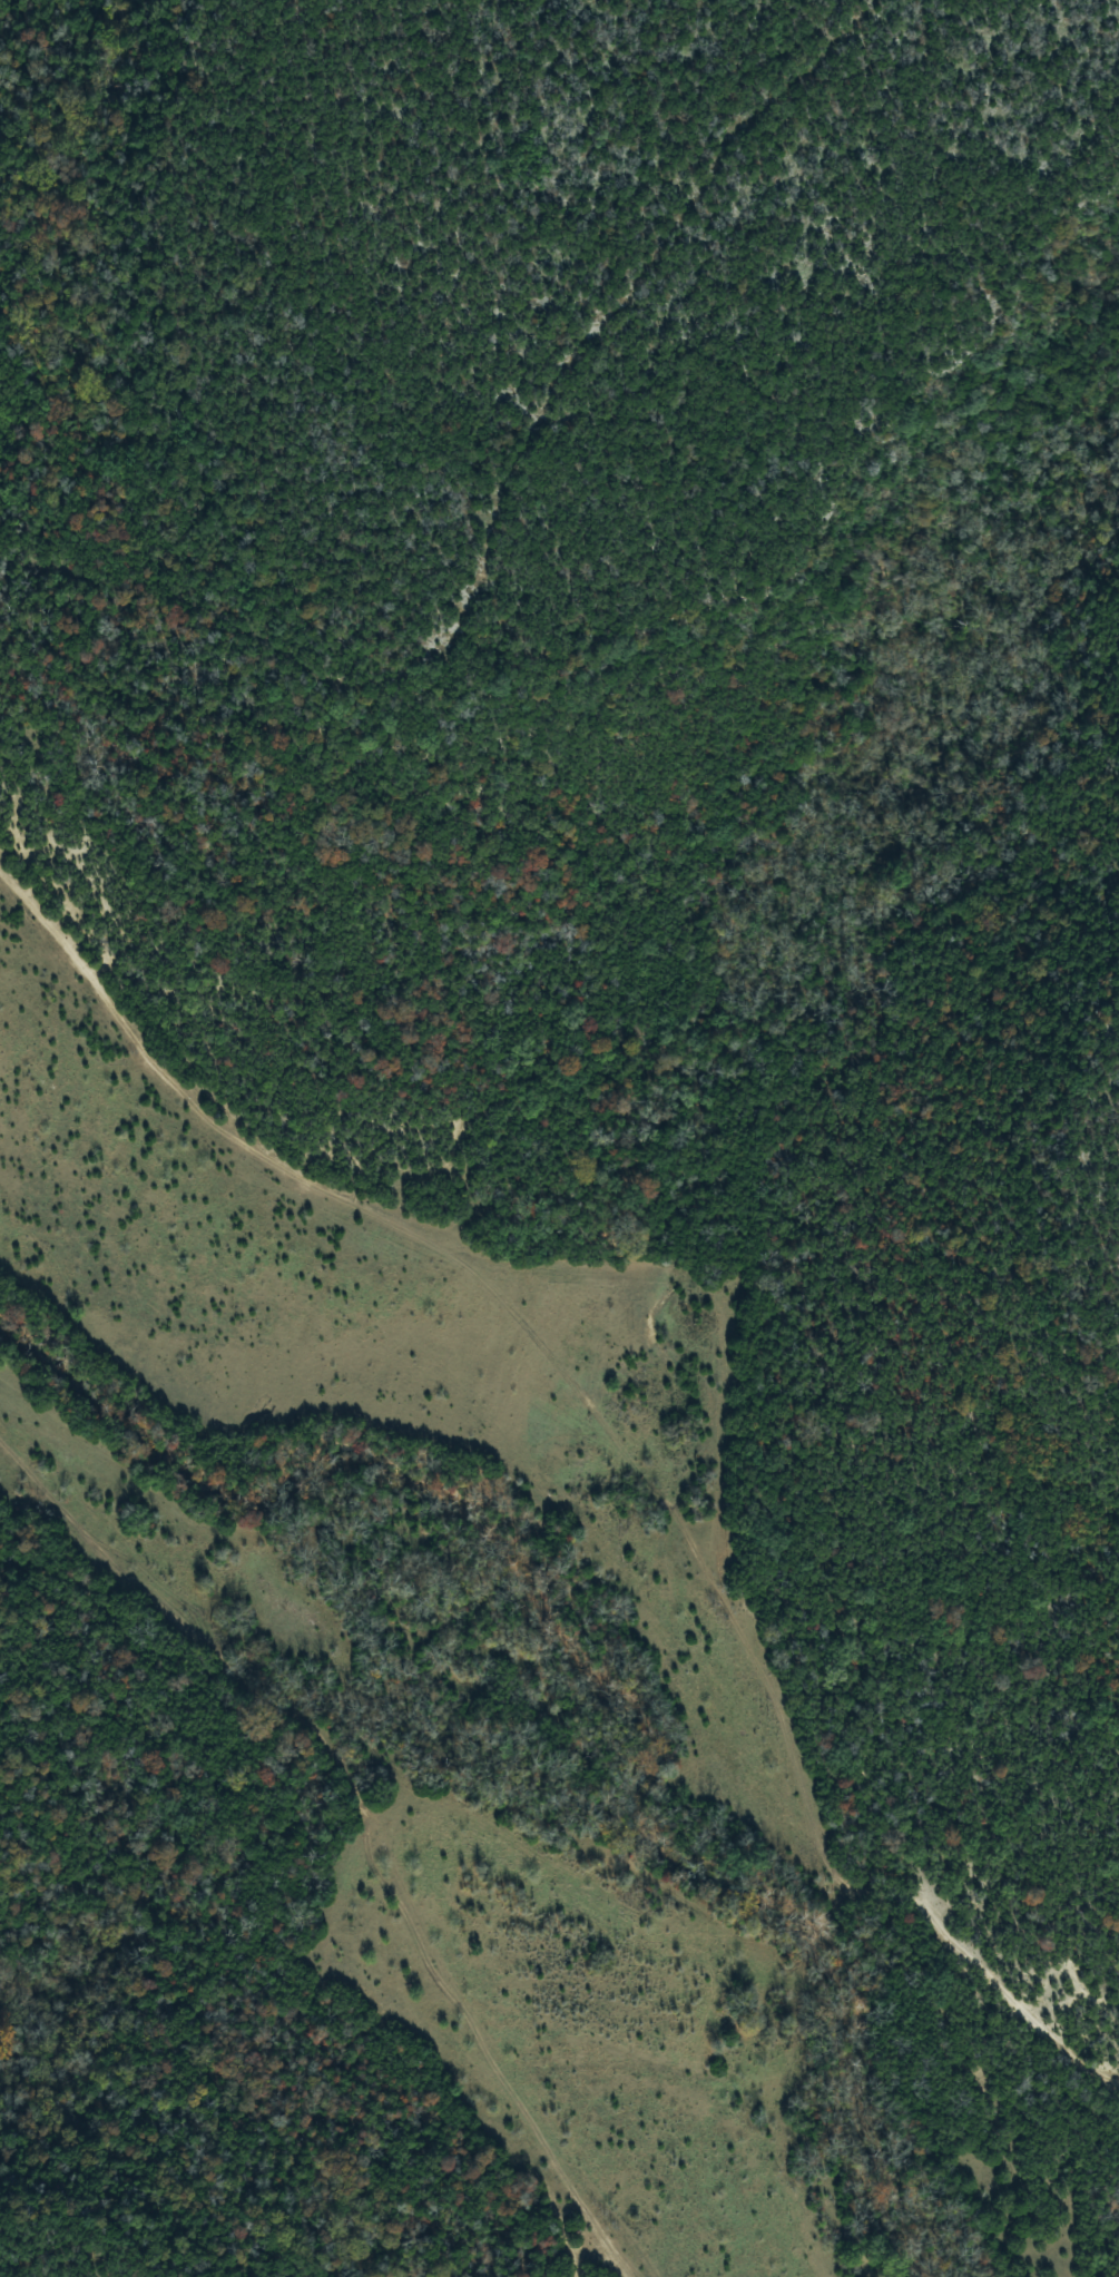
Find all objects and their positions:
road: (392, 1784)

